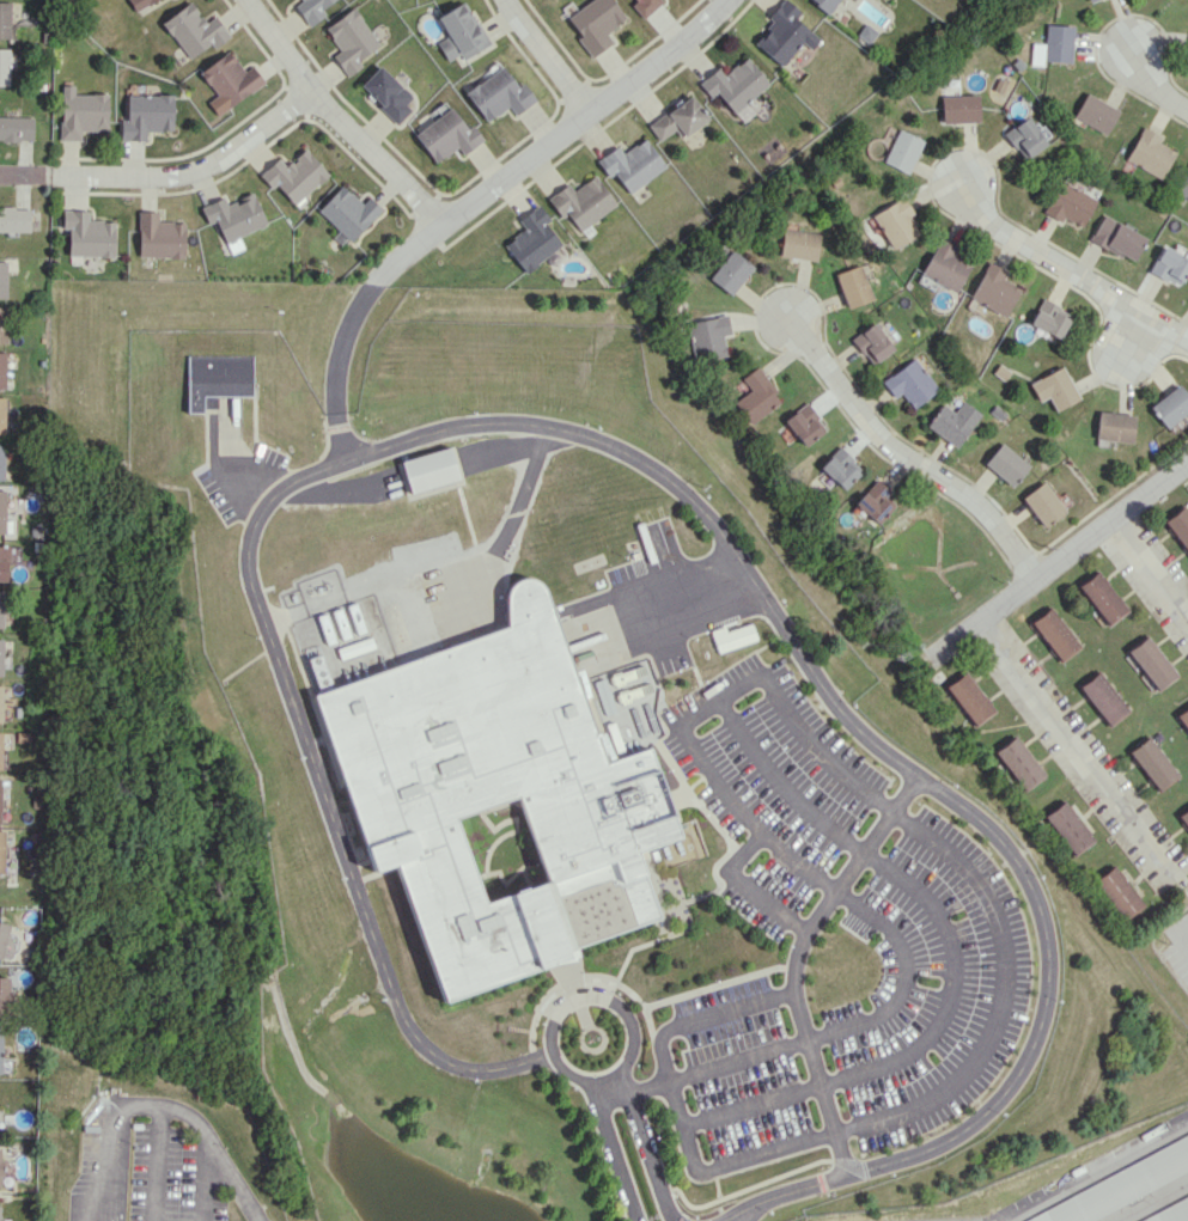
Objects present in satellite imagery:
building: (1089, 0)
building: (139, 4)
building: (827, 4)
building: (645, 5)
building: (311, 10)
building: (4, 19)
building: (595, 23)
building: (193, 30)
building: (462, 32)
building: (784, 32)
building: (351, 39)
building: (1053, 45)
road: (549, 54)
building: (4, 66)
road: (1158, 78)
building: (229, 81)
building: (735, 84)
building: (388, 92)
building: (499, 94)
building: (958, 108)
building: (81, 112)
building: (1095, 112)
building: (146, 115)
road: (337, 115)
building: (677, 118)
building: (16, 128)
building: (447, 135)
building: (1023, 138)
road: (548, 140)
building: (902, 151)
building: (1149, 153)
building: (632, 164)
road: (199, 167)
road: (22, 170)
road: (51, 171)
building: (294, 176)
building: (1182, 184)
building: (581, 201)
building: (1068, 203)
building: (347, 213)
building: (234, 218)
building: (13, 219)
building: (895, 221)
building: (87, 234)
building: (159, 236)
building: (1116, 238)
building: (532, 239)
building: (799, 244)
road: (1067, 264)
building: (944, 265)
building: (1169, 265)
building: (730, 270)
building: (2, 279)
building: (852, 286)
building: (993, 288)
building: (1049, 318)
building: (2, 324)
road: (1133, 332)
building: (707, 337)
road: (341, 342)
building: (870, 343)
building: (2, 370)
building: (1000, 371)
building: (217, 378)
building: (908, 383)
building: (1054, 389)
building: (755, 396)
building: (1170, 405)
building: (1, 415)
building: (951, 422)
building: (803, 423)
building: (1114, 426)
road: (339, 435)
road: (501, 452)
road: (904, 453)
building: (1, 460)
building: (1005, 464)
building: (839, 468)
building: (429, 469)
road: (249, 483)
road: (340, 489)
building: (871, 501)
building: (1042, 503)
building: (1, 512)
road: (508, 525)
building: (1180, 526)
road: (1058, 557)
road: (1151, 560)
building: (4, 562)
building: (1101, 597)
building: (1, 608)
road: (663, 610)
building: (1053, 633)
building: (731, 636)
road: (270, 645)
building: (0, 655)
building: (1150, 661)
building: (632, 683)
building: (1102, 697)
building: (968, 698)
building: (0, 702)
building: (1183, 718)
road: (1082, 746)
building: (0, 747)
building: (1018, 763)
building: (1151, 763)
building: (494, 798)
building: (1184, 817)
building: (1067, 828)
building: (1, 851)
road: (1017, 868)
road: (818, 879)
road: (743, 886)
building: (1116, 892)
road: (1182, 928)
building: (4, 938)
road: (949, 956)
road: (796, 960)
building: (4, 996)
road: (702, 1018)
road: (546, 1043)
building: (0, 1056)
road: (971, 1062)
road: (632, 1092)
road: (163, 1103)
road: (645, 1146)
road: (613, 1150)
road: (855, 1160)
road: (152, 1161)
road: (1095, 1171)
building: (0, 1173)
road: (203, 1177)
building: (1121, 1184)
road: (743, 1189)
building: (0, 1211)
building: (1169, 1213)
road: (89, 1215)

